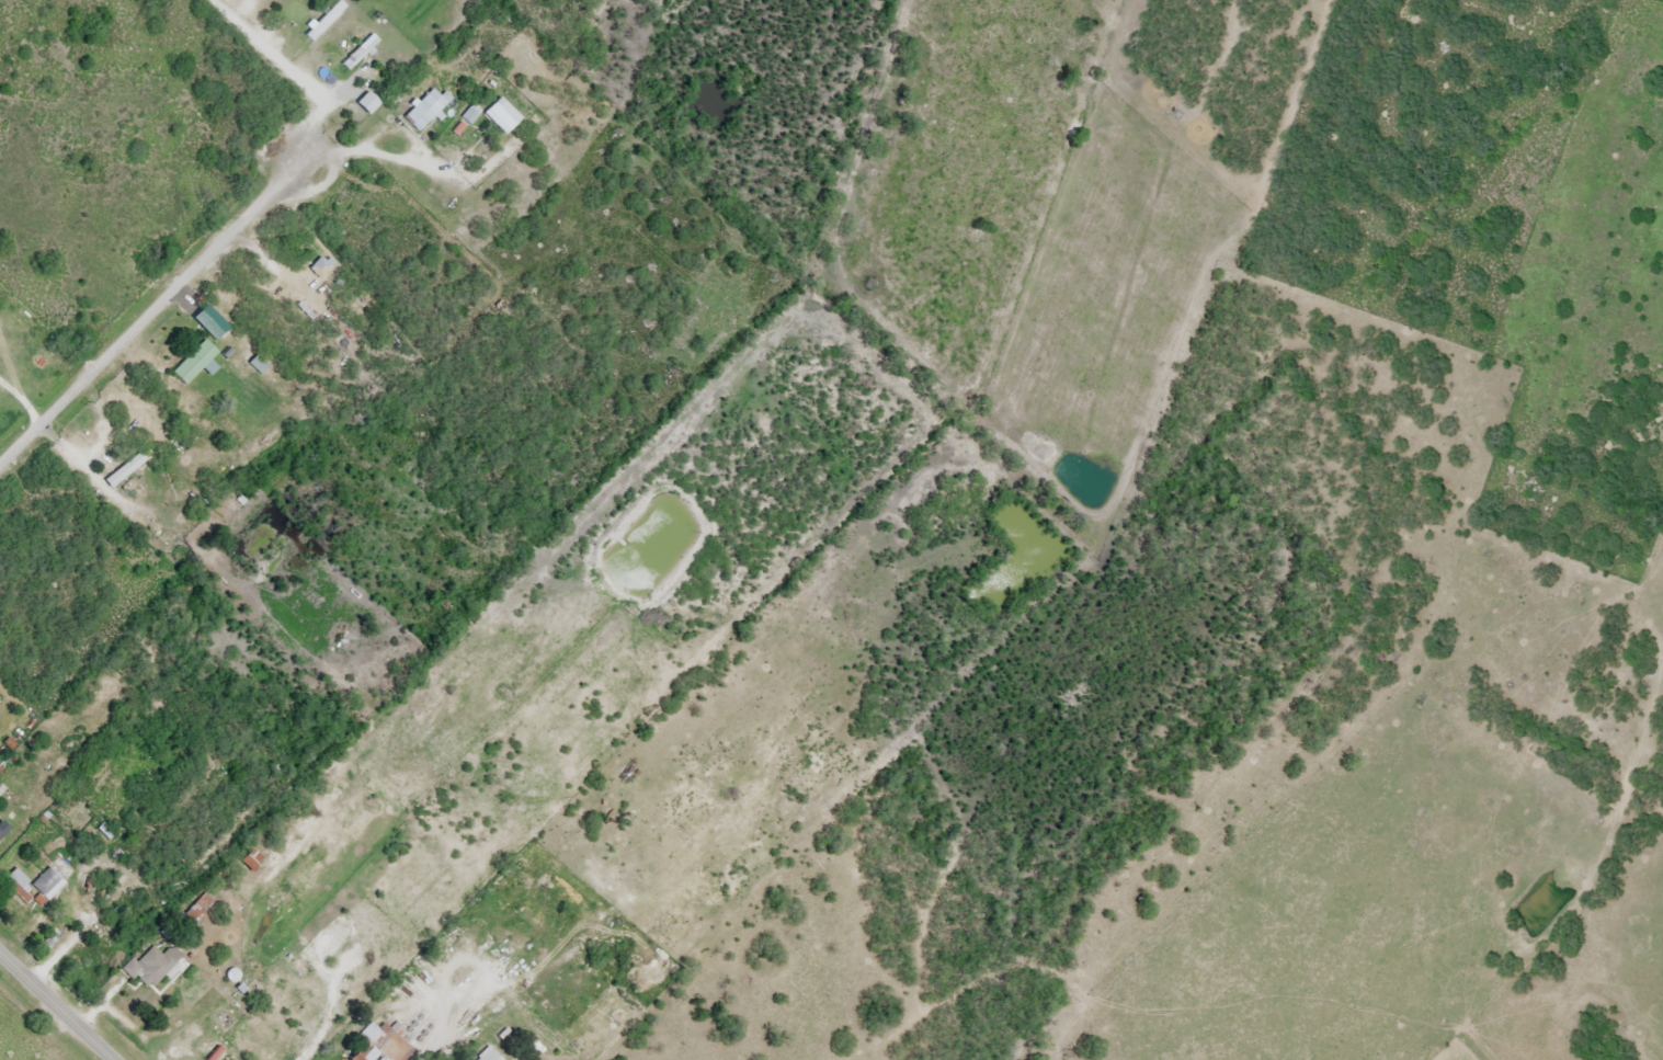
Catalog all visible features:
building: (356, 54)
building: (364, 104)
building: (421, 111)
building: (502, 116)
building: (318, 269)
road: (161, 310)
building: (213, 337)
building: (191, 362)
building: (265, 380)
building: (122, 470)
building: (249, 860)
building: (16, 885)
building: (45, 885)
building: (151, 966)
road: (55, 1007)
building: (198, 1044)
building: (380, 1044)
building: (487, 1056)

